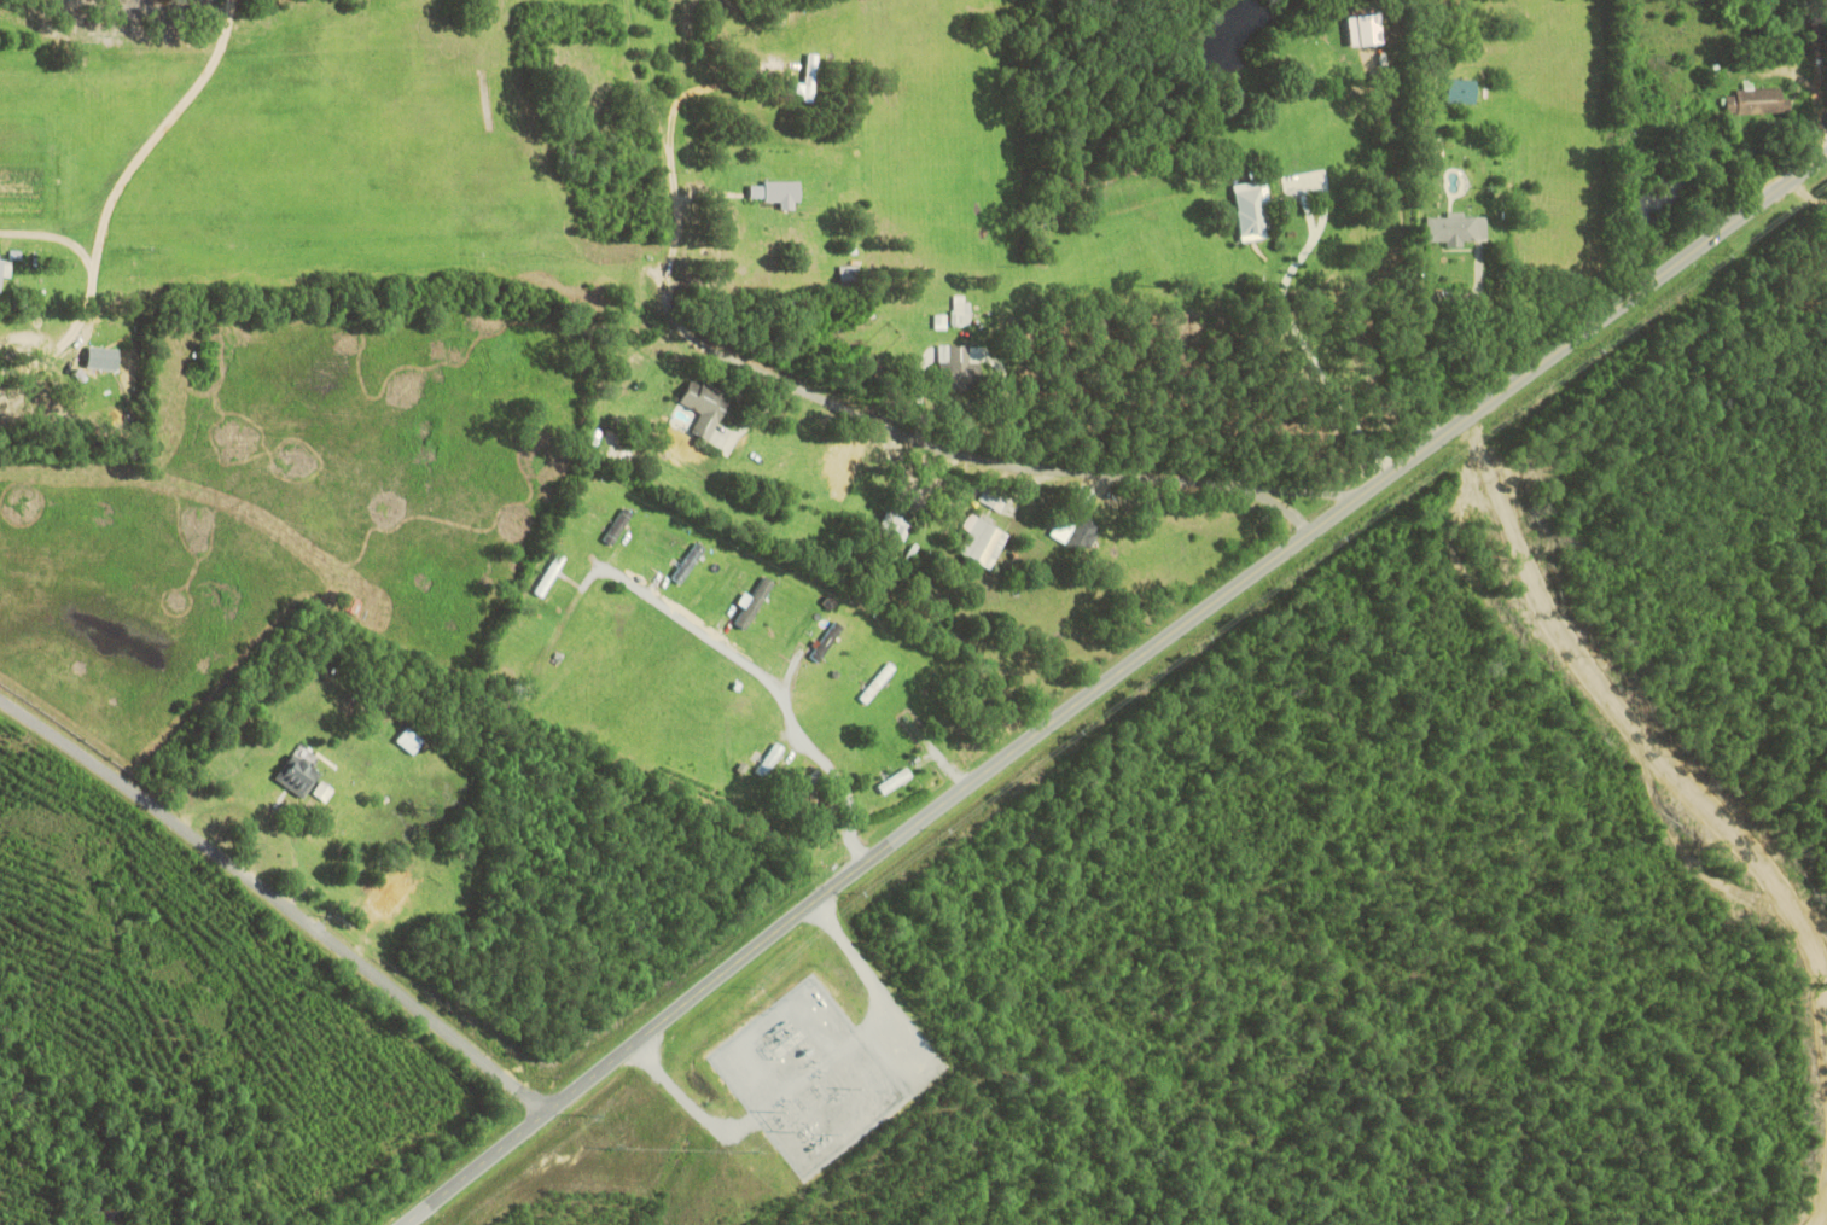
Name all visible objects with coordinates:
building: (1367, 29)
building: (810, 78)
building: (1465, 89)
building: (1757, 99)
road: (1505, 181)
building: (779, 192)
road: (115, 196)
building: (1256, 210)
building: (1457, 228)
building: (5, 269)
road: (1631, 298)
building: (961, 309)
road: (1078, 317)
building: (941, 320)
building: (960, 362)
building: (706, 407)
building: (995, 497)
building: (897, 525)
building: (1080, 535)
building: (984, 539)
building: (691, 561)
building: (756, 601)
building: (828, 641)
road: (1593, 737)
building: (413, 740)
building: (772, 759)
road: (989, 772)
building: (299, 775)
building: (325, 792)
road: (278, 900)
building: (390, 900)
road: (476, 1168)
road: (1811, 1169)

